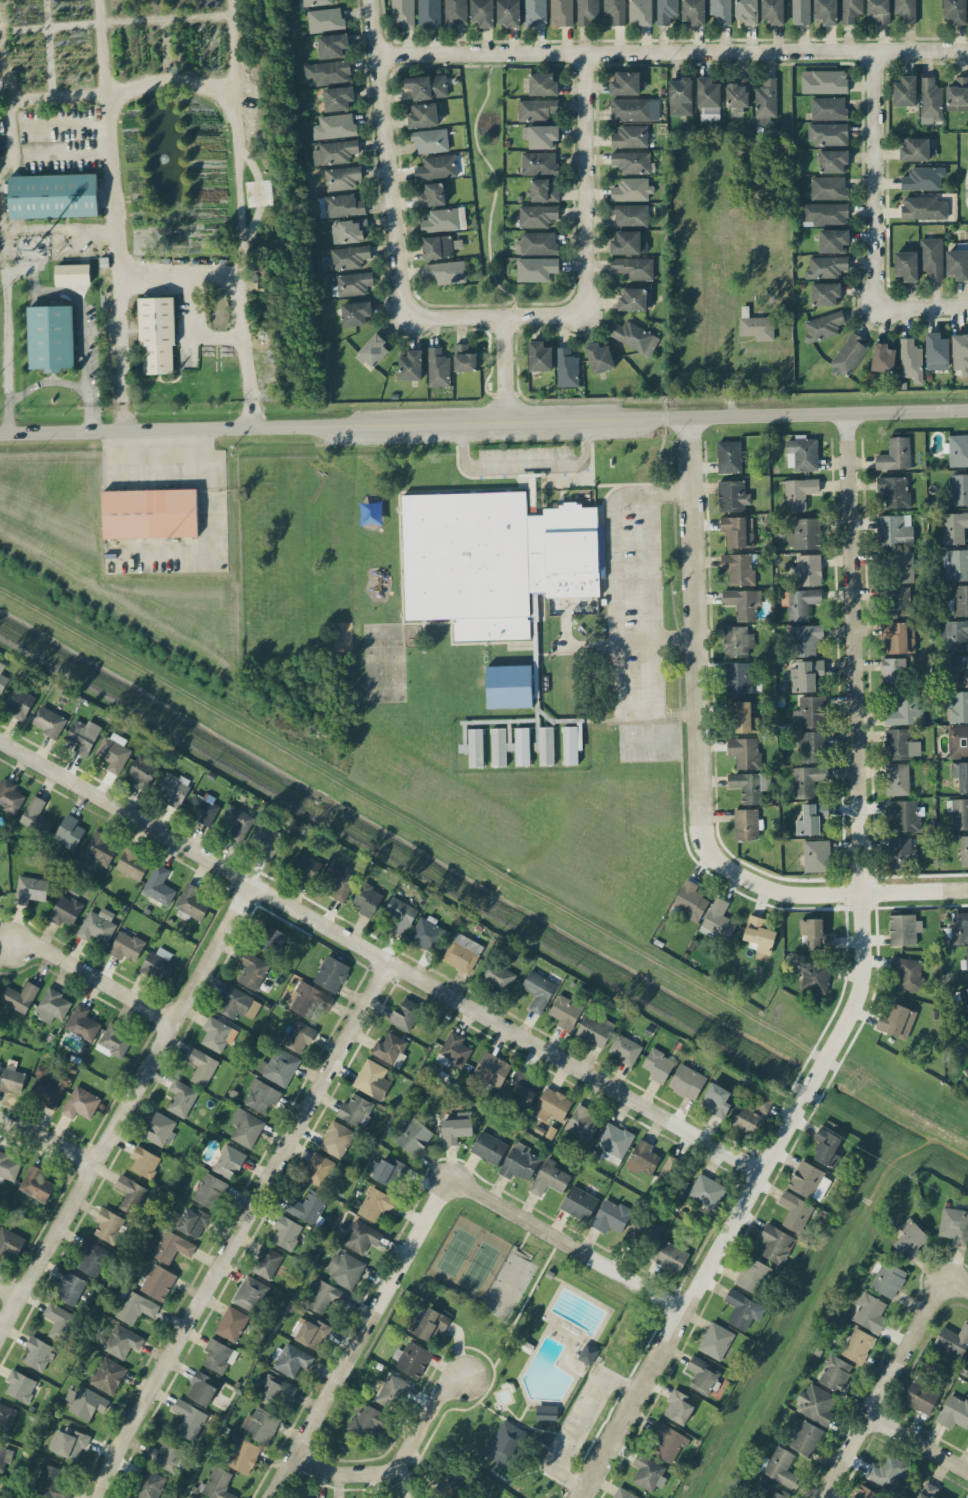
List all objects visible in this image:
building: (317, 2)
building: (721, 10)
building: (850, 10)
building: (879, 10)
building: (906, 10)
building: (955, 10)
building: (455, 11)
building: (615, 11)
building: (640, 11)
building: (666, 11)
building: (694, 11)
building: (747, 11)
building: (773, 11)
building: (801, 11)
building: (826, 11)
building: (482, 12)
building: (509, 12)
building: (534, 12)
building: (561, 12)
building: (587, 12)
building: (403, 13)
building: (429, 13)
building: (325, 19)
building: (332, 45)
road: (672, 53)
building: (328, 72)
building: (824, 81)
building: (625, 83)
building: (542, 84)
building: (427, 86)
building: (905, 91)
building: (707, 92)
road: (80, 93)
building: (957, 94)
building: (737, 95)
building: (680, 96)
building: (338, 97)
building: (930, 100)
building: (765, 101)
building: (828, 108)
building: (536, 109)
building: (634, 109)
building: (423, 115)
building: (335, 126)
road: (235, 129)
road: (476, 129)
building: (828, 134)
building: (541, 136)
building: (630, 136)
building: (430, 140)
building: (917, 149)
building: (335, 152)
road: (387, 157)
building: (832, 160)
building: (632, 161)
building: (538, 162)
building: (435, 166)
building: (342, 177)
road: (874, 178)
building: (923, 178)
road: (582, 183)
road: (495, 185)
building: (828, 187)
road: (966, 187)
building: (631, 189)
building: (543, 190)
building: (432, 194)
building: (53, 195)
building: (343, 205)
building: (923, 207)
building: (824, 213)
building: (630, 214)
building: (537, 215)
building: (348, 230)
building: (832, 240)
building: (536, 243)
building: (628, 243)
building: (437, 246)
building: (349, 256)
building: (931, 257)
building: (957, 263)
building: (906, 265)
building: (634, 267)
building: (826, 267)
building: (536, 268)
building: (446, 271)
building: (354, 282)
road: (183, 286)
building: (825, 293)
building: (634, 299)
road: (921, 305)
building: (355, 313)
road: (493, 314)
road: (79, 322)
building: (823, 326)
building: (757, 327)
building: (156, 335)
building: (50, 337)
building: (634, 337)
road: (5, 339)
building: (374, 350)
building: (937, 351)
building: (960, 352)
building: (848, 354)
building: (539, 356)
building: (599, 357)
building: (883, 357)
building: (464, 358)
building: (911, 360)
building: (410, 365)
building: (438, 367)
road: (502, 367)
building: (566, 367)
road: (45, 380)
road: (88, 415)
road: (484, 421)
building: (957, 449)
building: (802, 454)
building: (894, 454)
building: (729, 456)
road: (547, 465)
building: (959, 489)
building: (894, 491)
building: (799, 493)
building: (733, 494)
building: (149, 514)
building: (954, 527)
building: (894, 529)
building: (738, 530)
road: (614, 531)
building: (805, 533)
building: (494, 560)
building: (957, 564)
road: (652, 566)
building: (904, 566)
building: (738, 567)
building: (809, 569)
building: (958, 600)
building: (899, 601)
building: (802, 602)
building: (743, 603)
building: (954, 634)
building: (898, 636)
road: (658, 639)
building: (804, 639)
building: (737, 641)
road: (591, 642)
road: (696, 650)
building: (959, 668)
building: (892, 672)
building: (806, 675)
building: (737, 677)
building: (2, 678)
building: (509, 686)
building: (19, 702)
building: (957, 706)
building: (905, 711)
building: (810, 712)
road: (625, 713)
building: (743, 716)
building: (48, 721)
building: (83, 735)
road: (647, 740)
building: (958, 740)
building: (571, 743)
building: (545, 744)
building: (899, 744)
building: (473, 746)
building: (510, 746)
building: (811, 746)
building: (113, 751)
building: (744, 752)
building: (143, 769)
building: (960, 774)
building: (808, 779)
building: (897, 779)
building: (750, 785)
building: (173, 788)
building: (10, 795)
building: (202, 807)
building: (958, 812)
building: (904, 814)
building: (35, 815)
building: (811, 818)
building: (238, 821)
building: (745, 824)
building: (69, 831)
building: (264, 840)
building: (100, 848)
building: (964, 850)
building: (901, 853)
building: (816, 855)
building: (132, 863)
building: (304, 865)
building: (338, 881)
building: (158, 885)
building: (30, 889)
road: (849, 892)
building: (367, 899)
building: (690, 900)
building: (191, 903)
building: (65, 910)
building: (401, 914)
building: (718, 920)
building: (97, 925)
building: (903, 928)
building: (960, 928)
building: (427, 933)
building: (815, 933)
building: (758, 934)
building: (270, 935)
building: (126, 946)
building: (462, 952)
road: (377, 959)
building: (965, 961)
building: (158, 963)
building: (252, 970)
building: (331, 973)
building: (907, 973)
building: (816, 975)
building: (498, 976)
road: (94, 979)
building: (538, 990)
road: (858, 990)
building: (19, 996)
building: (309, 999)
building: (964, 1002)
building: (237, 1003)
building: (52, 1005)
building: (405, 1013)
building: (897, 1021)
building: (82, 1023)
building: (595, 1029)
building: (215, 1033)
building: (299, 1036)
building: (114, 1041)
building: (389, 1047)
building: (625, 1049)
building: (454, 1050)
building: (658, 1065)
building: (201, 1066)
building: (278, 1066)
building: (492, 1068)
building: (372, 1079)
building: (11, 1080)
building: (686, 1081)
building: (48, 1085)
building: (523, 1087)
building: (261, 1095)
building: (181, 1097)
building: (716, 1099)
building: (80, 1102)
building: (551, 1105)
building: (354, 1109)
road: (125, 1111)
building: (751, 1114)
building: (583, 1122)
building: (245, 1127)
building: (456, 1127)
building: (160, 1129)
road: (50, 1136)
building: (413, 1136)
building: (336, 1139)
building: (613, 1142)
building: (826, 1144)
building: (488, 1147)
building: (642, 1158)
building: (144, 1161)
building: (228, 1161)
building: (520, 1162)
building: (8, 1166)
building: (318, 1169)
building: (386, 1169)
building: (666, 1170)
building: (549, 1178)
building: (810, 1181)
building: (36, 1183)
building: (209, 1190)
building: (707, 1190)
building: (130, 1193)
building: (579, 1202)
building: (377, 1203)
building: (306, 1206)
building: (795, 1211)
building: (611, 1216)
building: (193, 1222)
building: (108, 1225)
building: (954, 1225)
building: (644, 1229)
road: (242, 1230)
building: (286, 1232)
building: (361, 1236)
road: (565, 1241)
building: (911, 1241)
building: (10, 1242)
building: (775, 1243)
building: (171, 1247)
building: (92, 1256)
building: (670, 1256)
building: (267, 1262)
building: (344, 1268)
building: (752, 1274)
building: (888, 1279)
road: (958, 1281)
building: (158, 1282)
building: (70, 1288)
building: (249, 1293)
road: (10, 1294)
building: (325, 1296)
building: (136, 1307)
building: (743, 1309)
building: (870, 1311)
building: (59, 1321)
building: (231, 1323)
building: (428, 1323)
road: (1, 1329)
building: (310, 1332)
road: (359, 1336)
building: (716, 1340)
building: (953, 1340)
building: (122, 1341)
building: (858, 1345)
building: (37, 1353)
building: (588, 1353)
building: (218, 1355)
building: (412, 1358)
building: (292, 1359)
building: (835, 1373)
building: (108, 1375)
building: (702, 1375)
building: (20, 1385)
road: (886, 1387)
building: (201, 1388)
building: (272, 1389)
building: (393, 1391)
building: (920, 1397)
building: (85, 1402)
building: (816, 1403)
building: (678, 1406)
building: (954, 1411)
building: (546, 1412)
building: (6, 1418)
building: (188, 1419)
building: (368, 1420)
building: (260, 1424)
road: (582, 1426)
road: (920, 1437)
building: (806, 1438)
building: (967, 1439)
building: (668, 1441)
building: (68, 1442)
building: (505, 1442)
building: (166, 1454)
building: (243, 1455)
building: (4, 1457)
road: (398, 1460)
building: (779, 1466)
building: (648, 1472)
building: (889, 1472)
building: (451, 1480)
building: (51, 1482)
building: (218, 1483)
building: (147, 1484)
building: (927, 1490)
building: (772, 1492)
building: (623, 1493)
building: (866, 1493)

